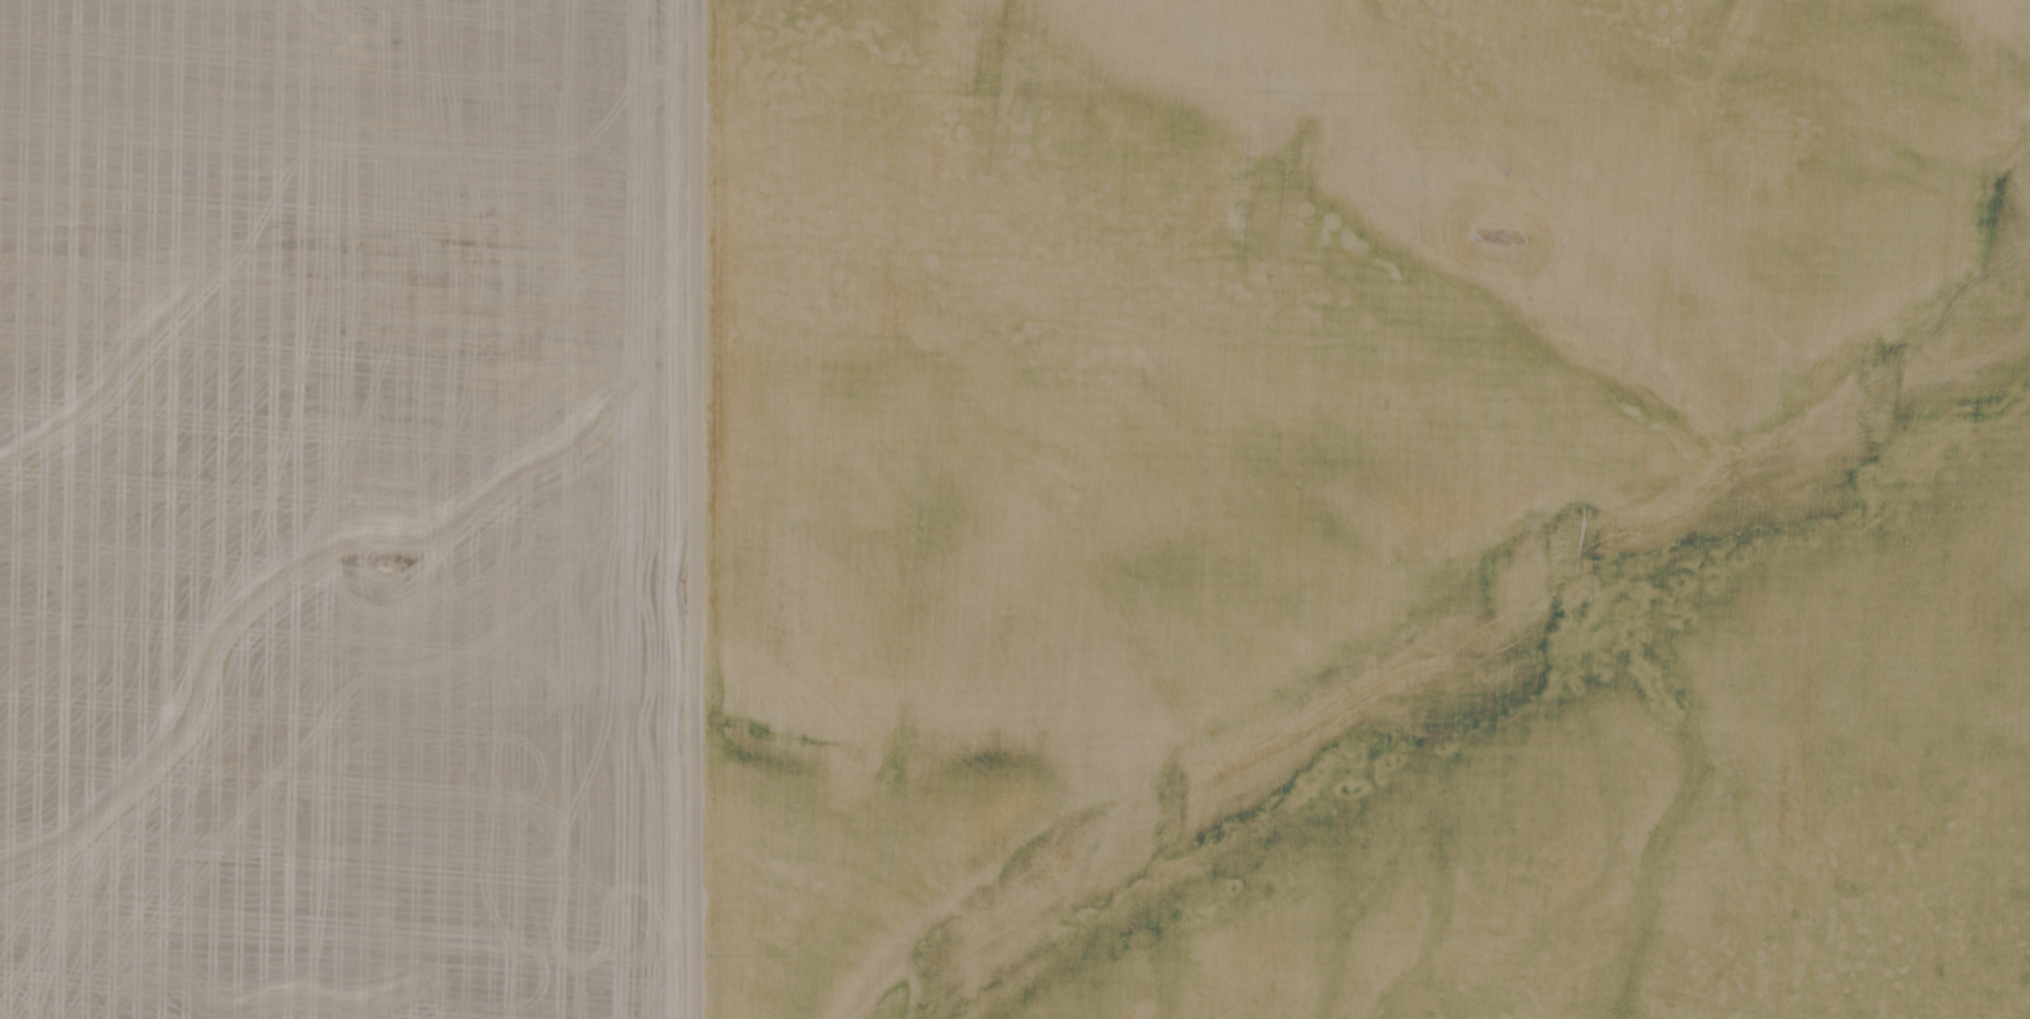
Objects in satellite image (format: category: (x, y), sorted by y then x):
road: (691, 509)

